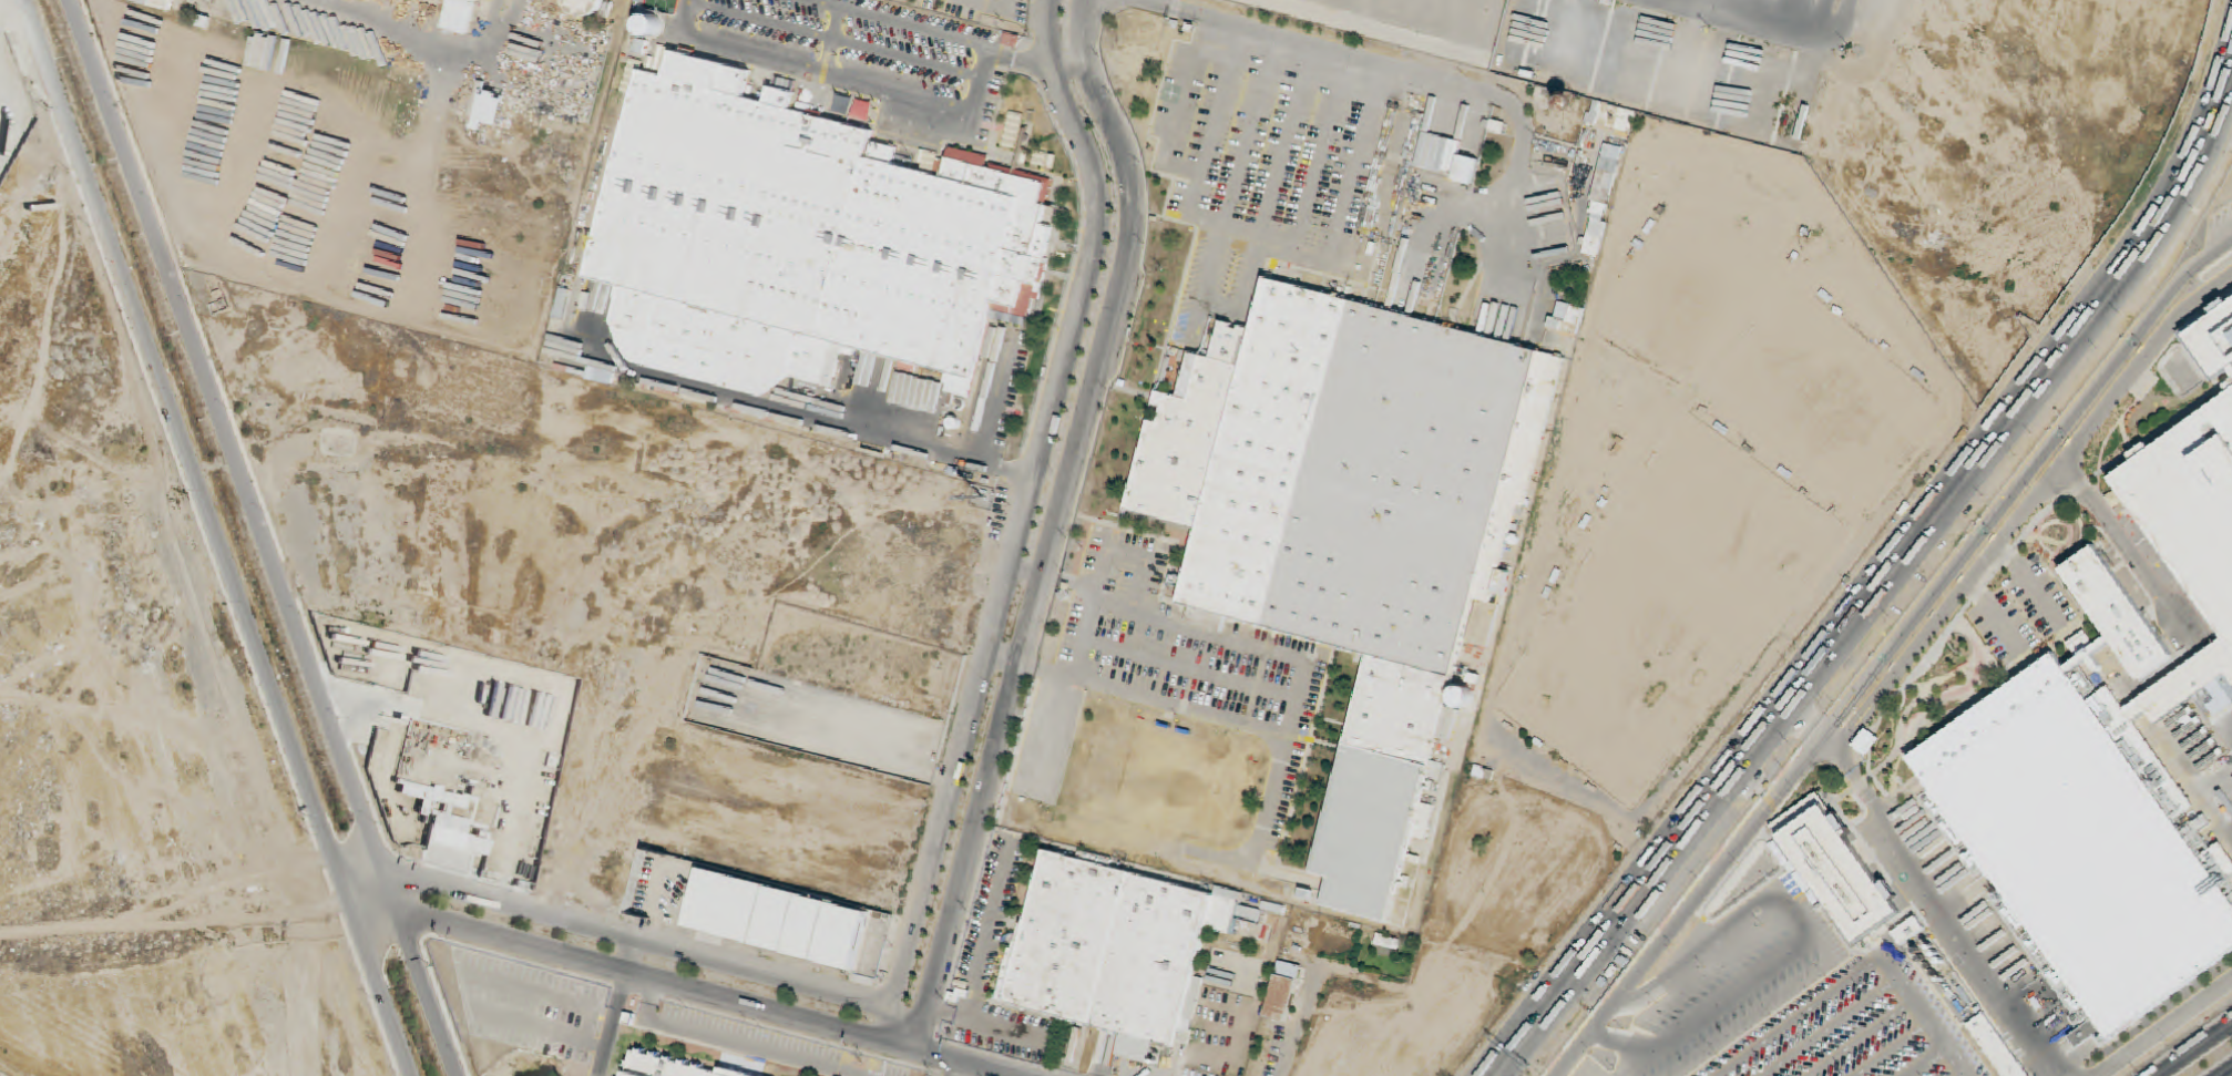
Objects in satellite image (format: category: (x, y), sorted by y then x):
road: (1822, 14)
road: (1840, 19)
crop: (24, 247)
building: (2216, 350)
road: (2026, 506)
road: (1884, 584)
road: (1890, 652)
road: (2162, 1027)
road: (2197, 1051)
road: (2229, 1074)

